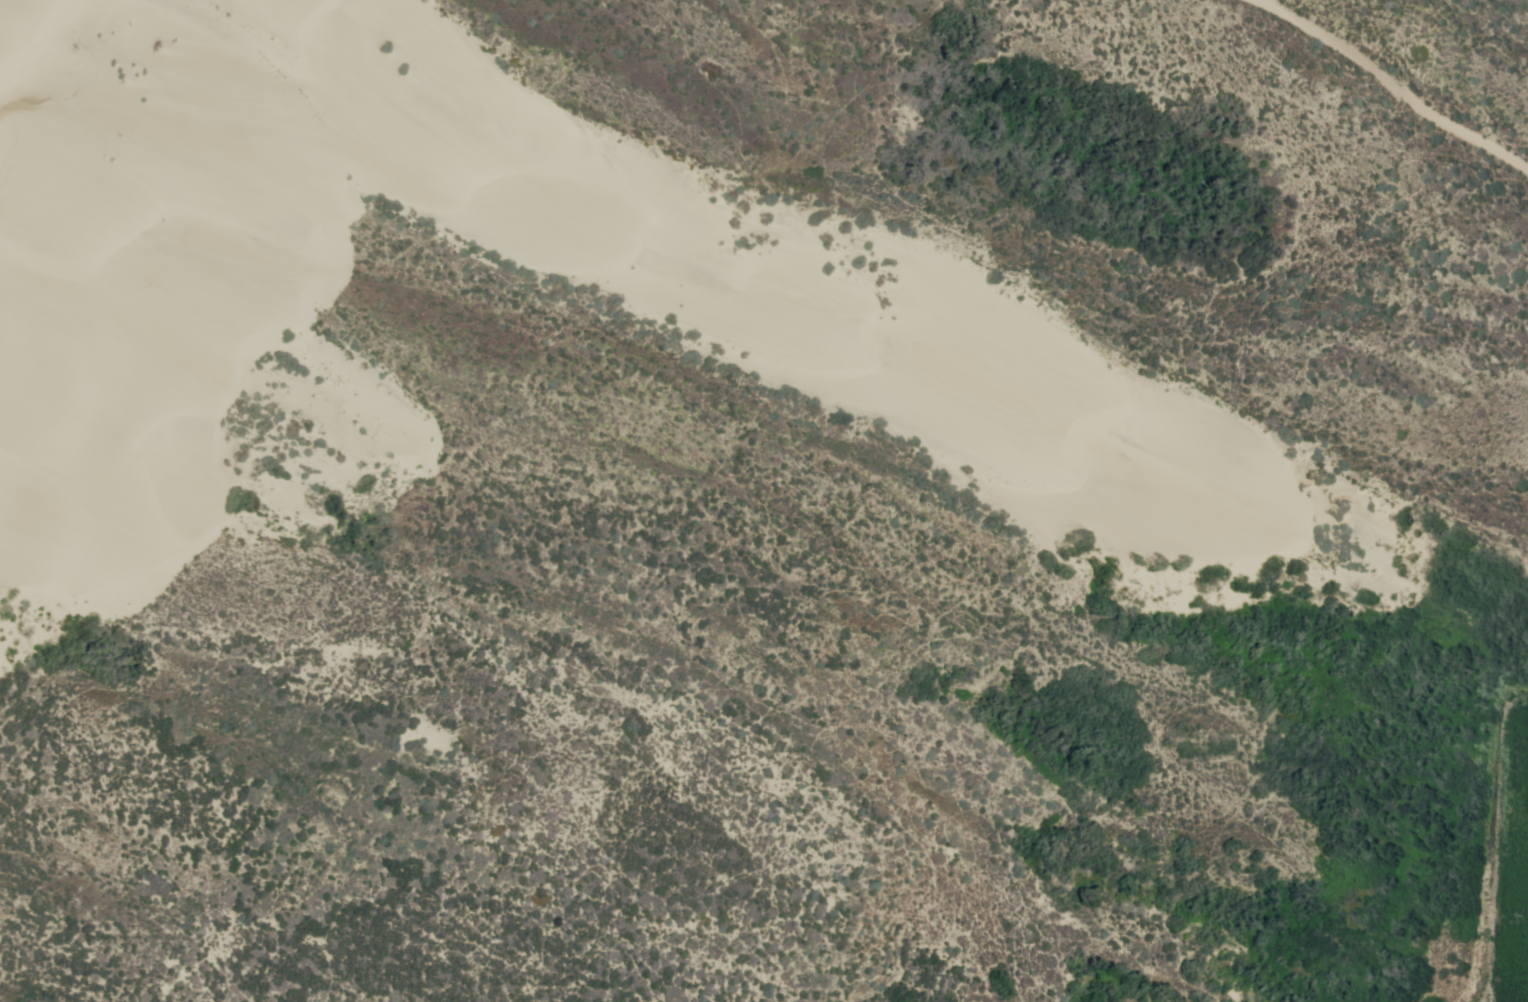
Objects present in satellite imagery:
road: (1394, 83)
park: (777, 496)
crop: (1518, 811)
crop: (1513, 960)

